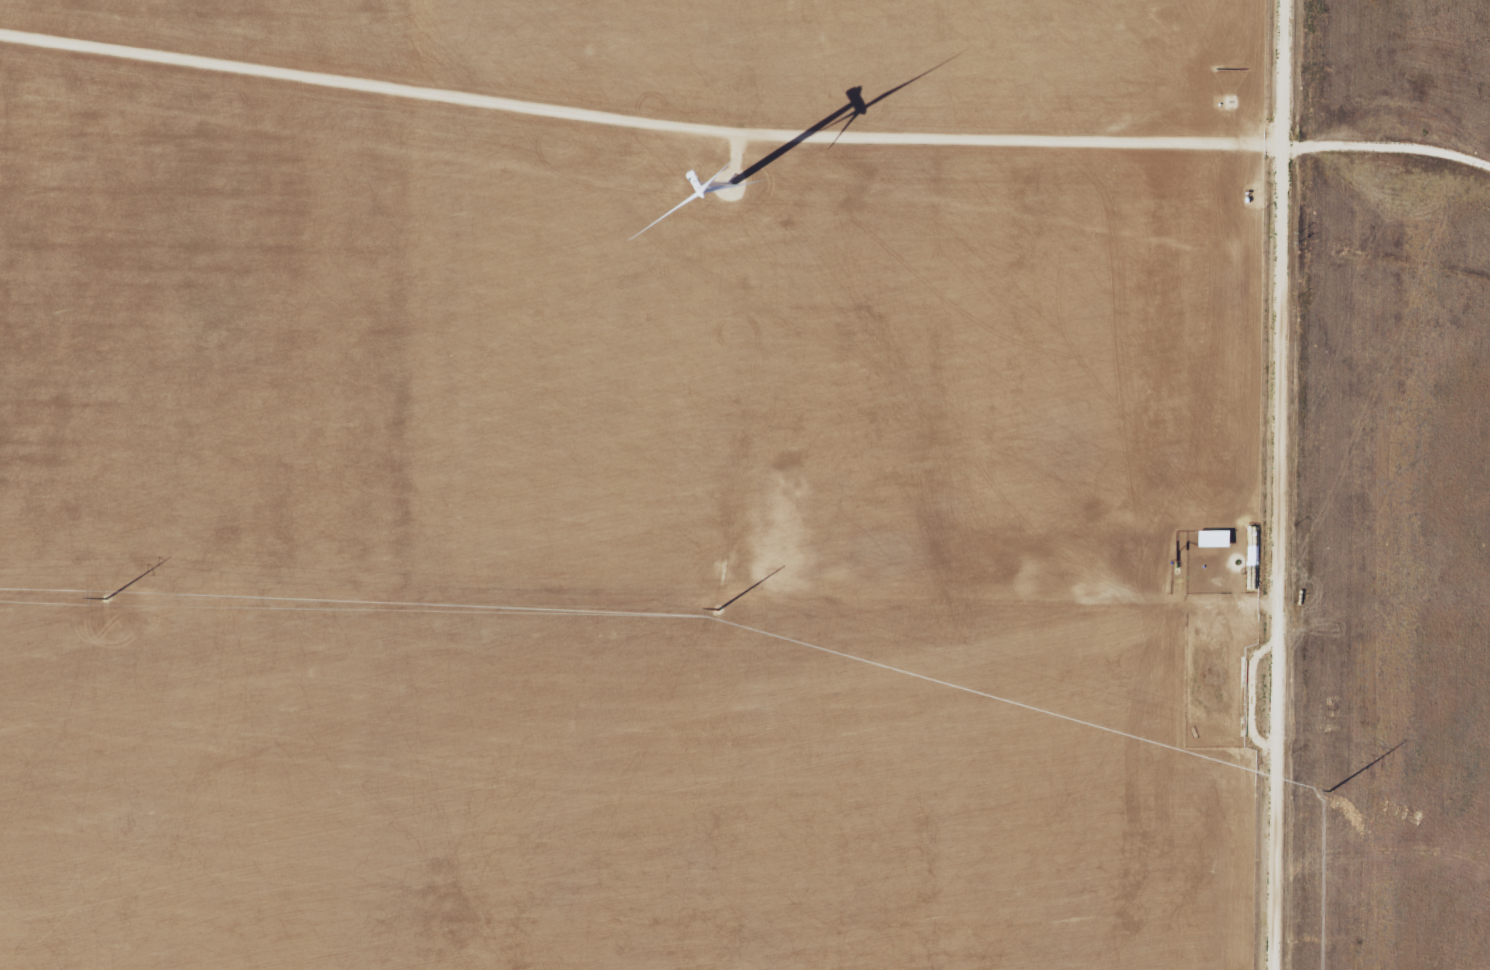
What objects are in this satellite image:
wind turbine: (730, 189)
road: (1280, 485)
building: (1219, 539)
power tower: (111, 598)
power tower: (719, 610)
power tower: (1331, 794)

